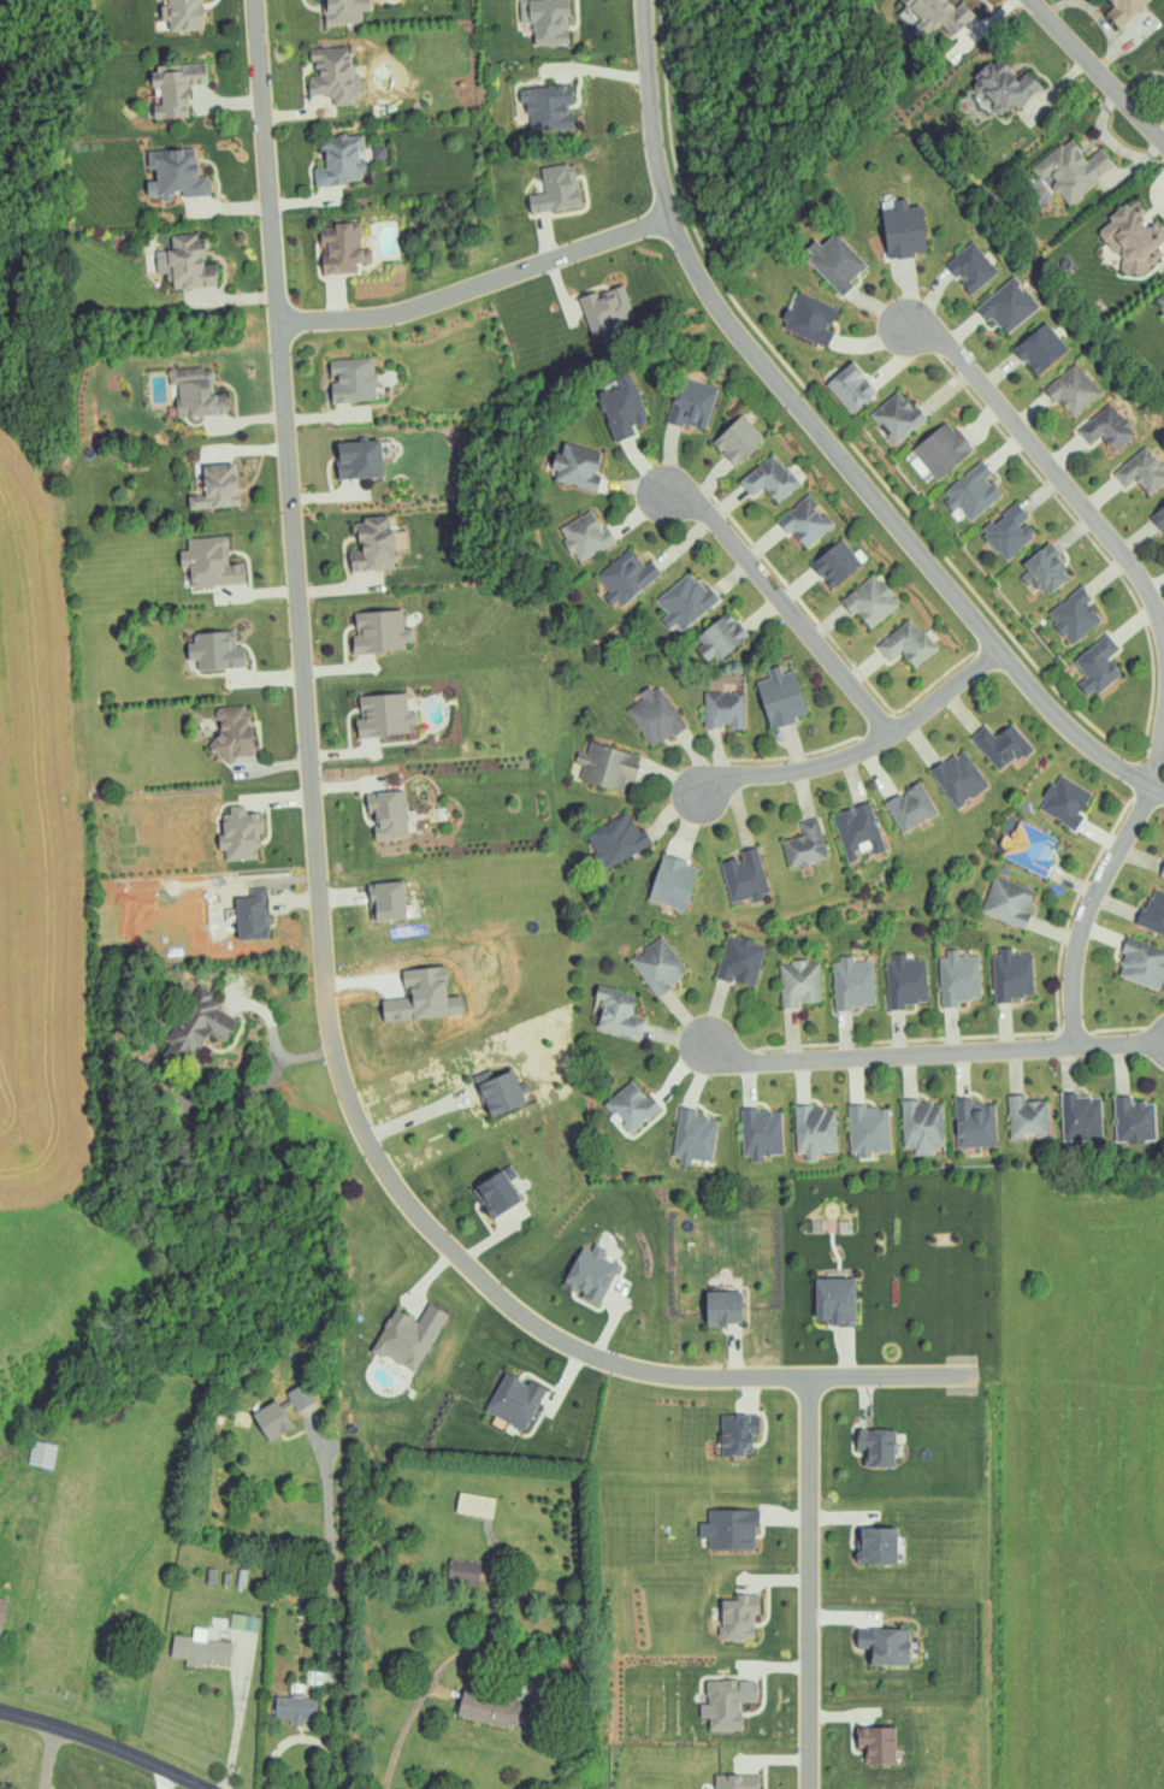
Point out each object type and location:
building: (1124, 10)
building: (342, 11)
building: (182, 14)
building: (936, 16)
building: (545, 20)
road: (1099, 71)
building: (332, 75)
building: (1004, 85)
building: (175, 88)
building: (546, 106)
building: (344, 159)
building: (1073, 170)
building: (175, 175)
building: (555, 189)
building: (903, 230)
building: (1133, 236)
building: (342, 249)
building: (834, 261)
building: (189, 262)
building: (971, 267)
road: (477, 284)
building: (1160, 299)
building: (1008, 305)
building: (605, 309)
building: (810, 319)
building: (1040, 348)
building: (351, 379)
building: (850, 386)
building: (1073, 390)
building: (194, 394)
building: (691, 403)
building: (622, 407)
building: (897, 418)
building: (1107, 427)
building: (737, 439)
road: (825, 439)
building: (941, 450)
building: (358, 460)
road: (1048, 464)
building: (577, 467)
building: (1141, 471)
building: (768, 479)
building: (214, 488)
building: (971, 491)
building: (1159, 519)
building: (805, 521)
building: (1008, 531)
building: (585, 536)
building: (372, 545)
building: (209, 563)
building: (835, 563)
building: (1044, 571)
building: (625, 578)
building: (870, 601)
building: (684, 602)
road: (786, 603)
building: (1074, 615)
building: (379, 632)
building: (721, 636)
building: (906, 644)
building: (214, 651)
building: (1097, 666)
building: (780, 697)
building: (723, 709)
building: (384, 716)
building: (654, 716)
building: (231, 732)
building: (1000, 745)
road: (865, 746)
road: (1157, 749)
building: (607, 767)
building: (958, 778)
building: (1065, 801)
building: (910, 807)
building: (389, 814)
building: (857, 829)
building: (240, 833)
building: (616, 840)
building: (804, 845)
building: (1028, 848)
building: (1162, 870)
building: (744, 876)
building: (672, 882)
building: (1008, 902)
building: (1153, 913)
road: (1095, 915)
building: (250, 916)
road: (320, 925)
building: (739, 961)
building: (1142, 964)
building: (658, 966)
building: (1012, 976)
building: (958, 979)
building: (905, 981)
building: (798, 984)
building: (852, 984)
building: (421, 998)
building: (618, 1014)
building: (199, 1022)
road: (276, 1044)
road: (1123, 1052)
road: (885, 1062)
building: (497, 1090)
road: (225, 1100)
building: (631, 1105)
road: (420, 1114)
building: (1081, 1114)
building: (1027, 1116)
building: (1133, 1118)
building: (974, 1122)
building: (922, 1124)
building: (868, 1128)
building: (814, 1129)
building: (761, 1132)
building: (693, 1136)
building: (497, 1189)
building: (590, 1273)
building: (835, 1299)
building: (722, 1306)
building: (408, 1335)
building: (514, 1400)
building: (271, 1419)
building: (738, 1433)
building: (876, 1446)
building: (474, 1504)
building: (729, 1528)
building: (876, 1543)
road: (808, 1583)
building: (1, 1608)
building: (738, 1616)
road: (329, 1620)
building: (885, 1645)
building: (199, 1648)
building: (726, 1702)
building: (295, 1707)
building: (494, 1708)
road: (425, 1717)
road: (226, 1722)
road: (284, 1742)
road: (105, 1743)
building: (878, 1743)
road: (47, 1758)
road: (163, 1779)
building: (735, 1781)

